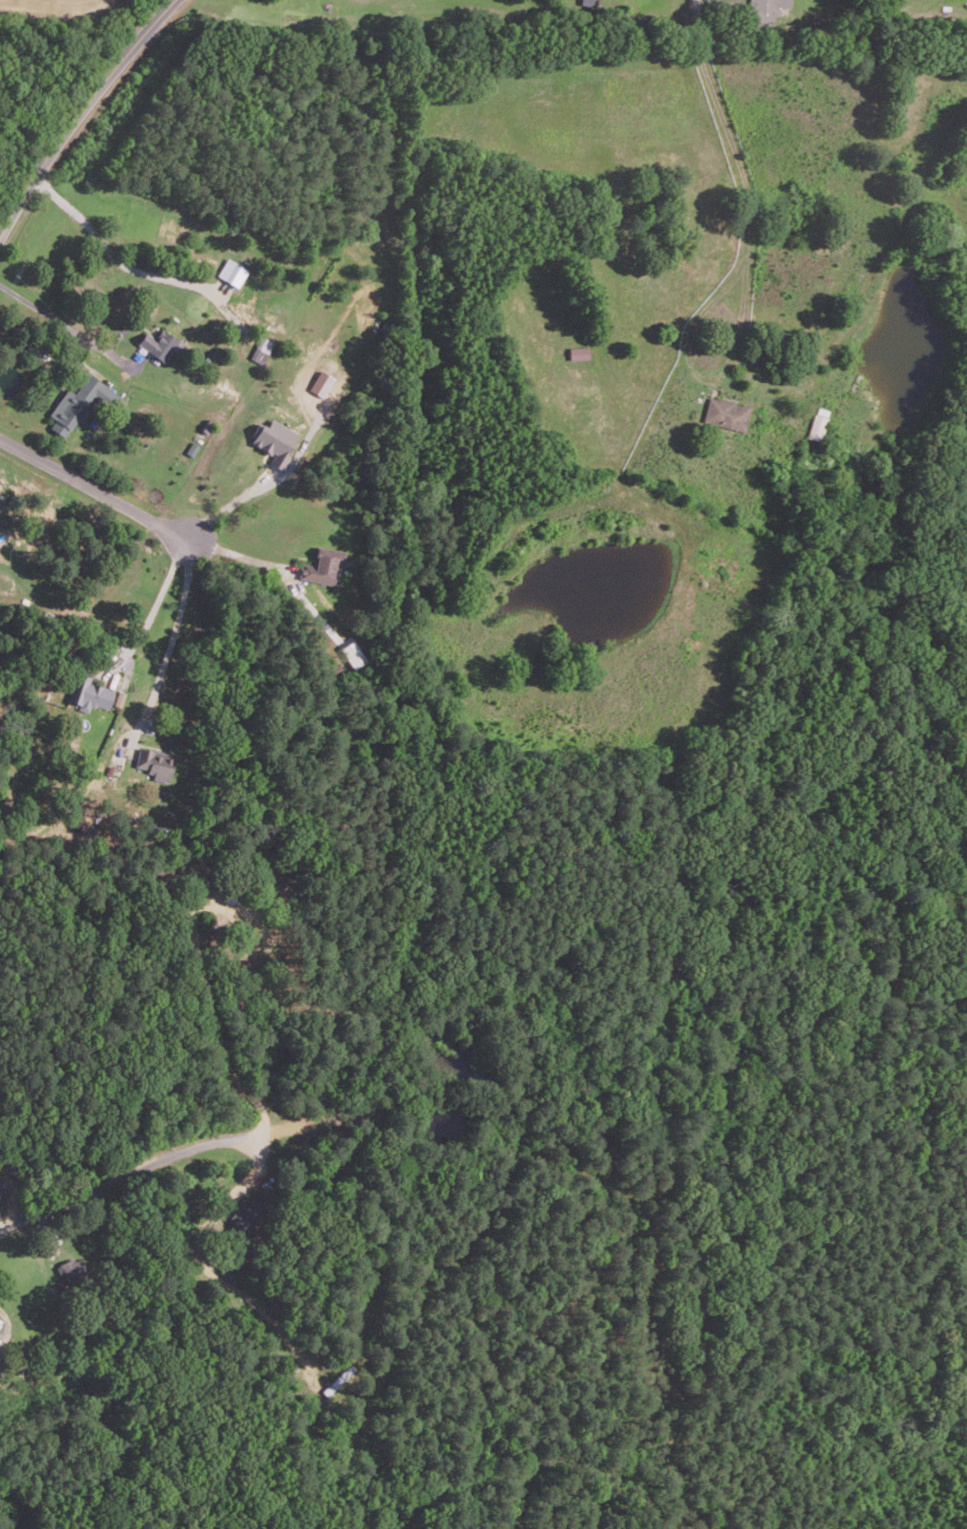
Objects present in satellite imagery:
road: (700, 2)
building: (766, 9)
road: (77, 112)
road: (117, 250)
building: (232, 272)
road: (747, 280)
road: (64, 322)
building: (161, 344)
road: (37, 349)
building: (261, 349)
building: (578, 352)
building: (321, 383)
building: (81, 402)
building: (726, 414)
building: (816, 426)
building: (275, 440)
road: (94, 479)
building: (2, 500)
road: (231, 503)
road: (238, 554)
building: (323, 565)
road: (156, 600)
road: (174, 636)
building: (89, 693)
building: (155, 762)
road: (218, 1024)
road: (123, 1176)
building: (251, 1212)
building: (70, 1270)
building: (0, 1320)

